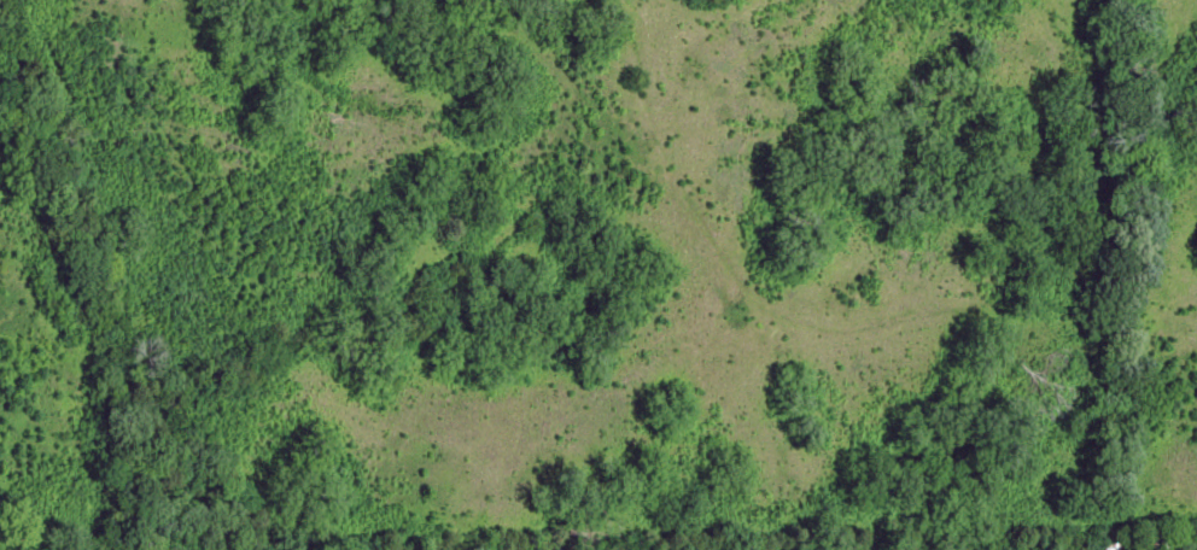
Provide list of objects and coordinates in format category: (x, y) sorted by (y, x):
road: (781, 310)

